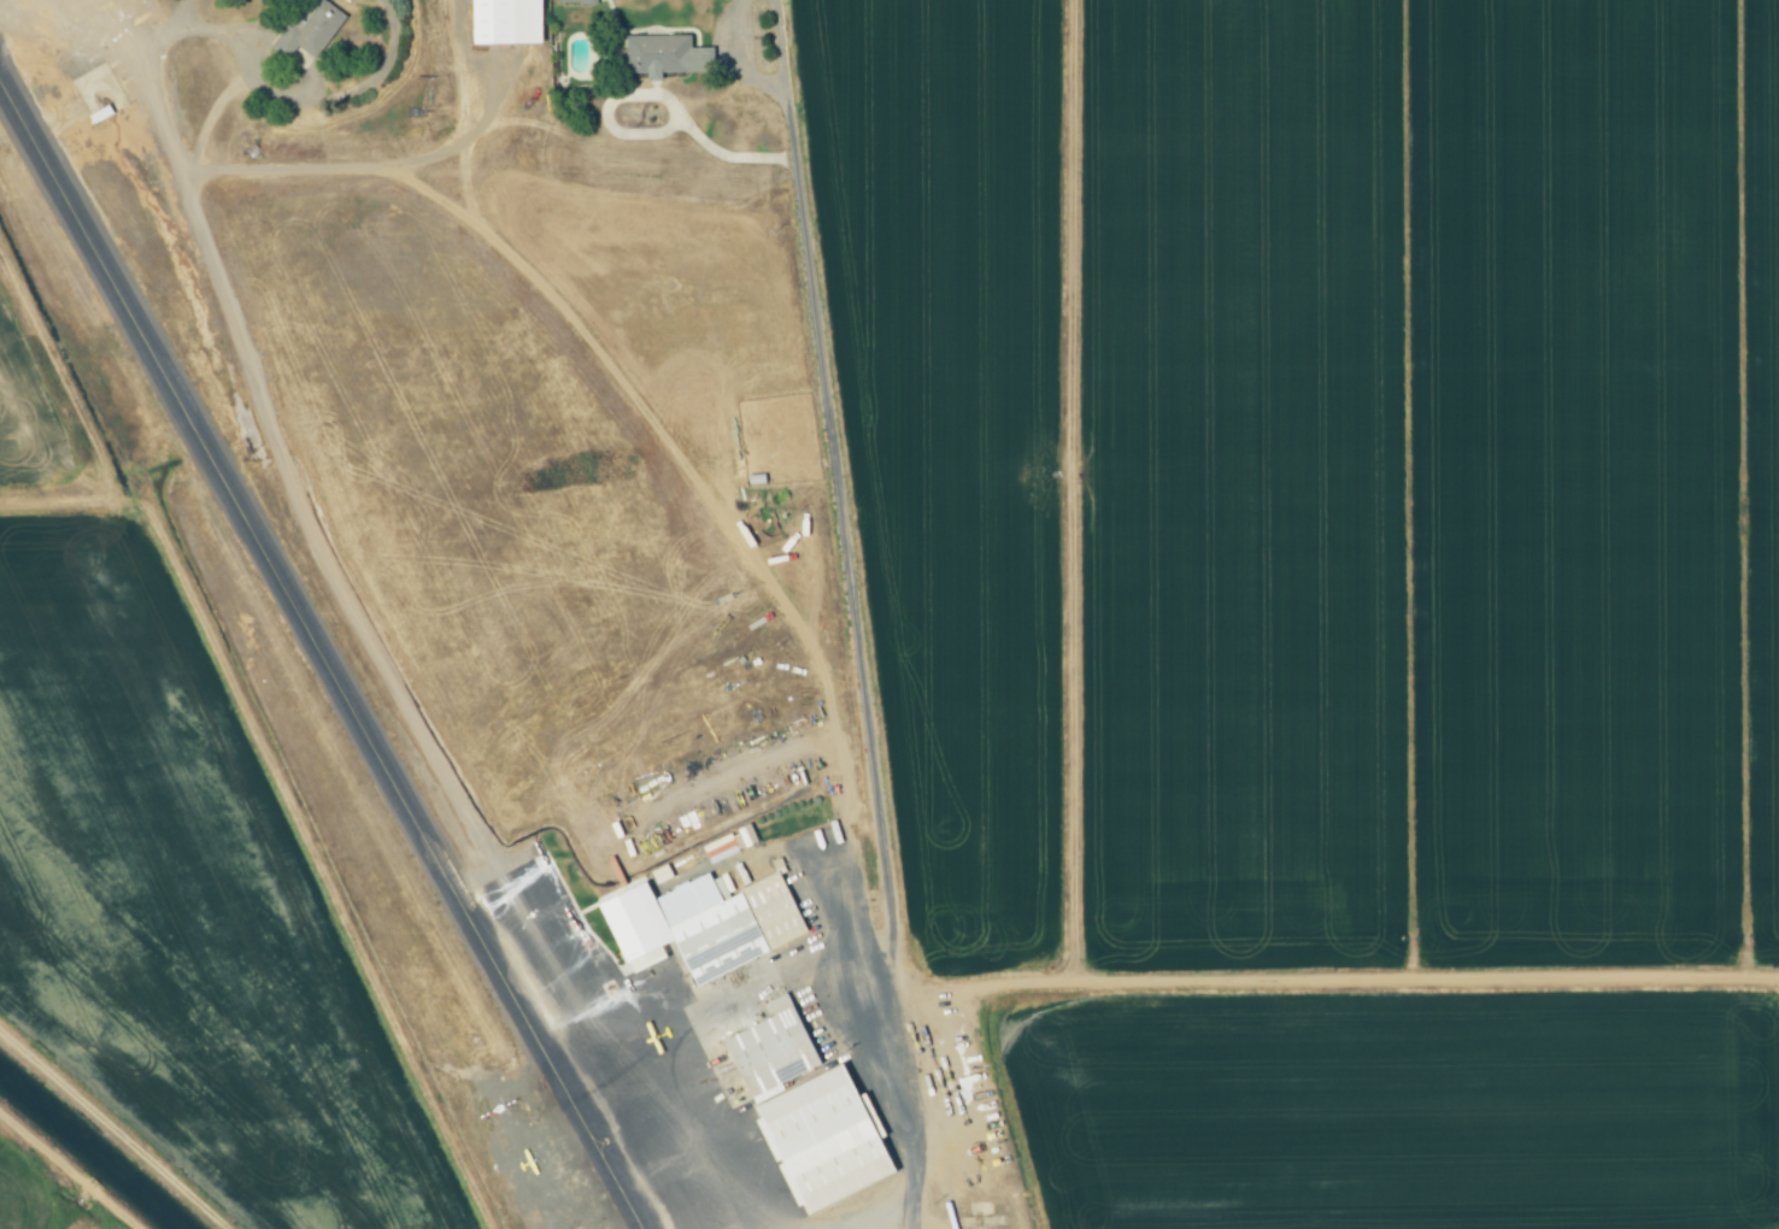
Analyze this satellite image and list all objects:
building: (579, 1)
building: (505, 20)
building: (310, 28)
building: (667, 55)
airport taxiway: (378, 167)
airport taxiway: (271, 435)
road: (851, 613)
airport runway: (319, 654)
building: (729, 842)
building: (659, 872)
airport hangar: (630, 921)
building: (630, 921)
building: (730, 922)
building: (774, 1048)
airport apron: (656, 1055)
building: (829, 1137)

